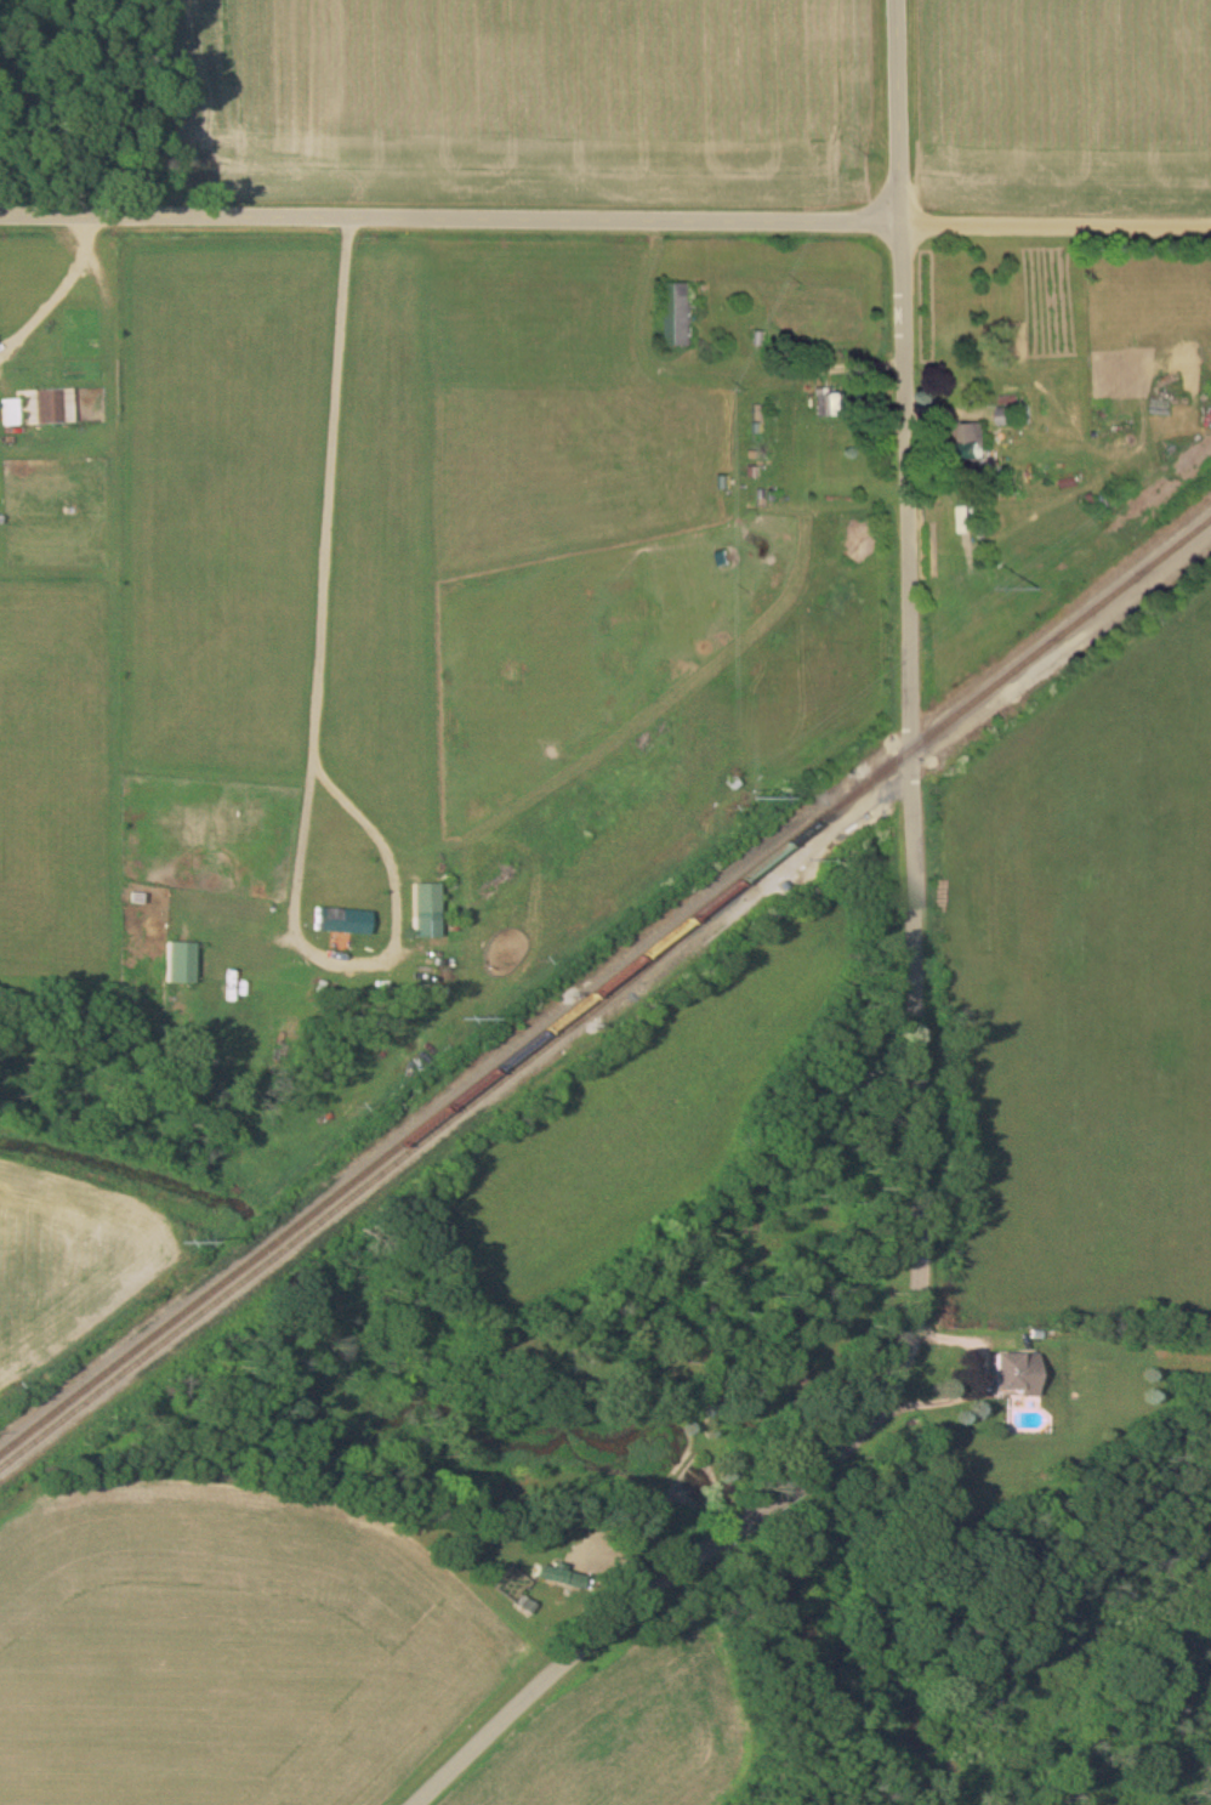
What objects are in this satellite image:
crop: (1068, 104)
road: (897, 108)
road: (449, 212)
road: (1054, 217)
road: (67, 295)
building: (678, 314)
building: (836, 405)
building: (40, 408)
building: (1010, 416)
building: (971, 447)
road: (313, 738)
building: (426, 913)
building: (341, 923)
building: (177, 965)
railway: (604, 982)
road: (915, 1123)
railway: (391, 1168)
building: (1013, 1374)
road: (977, 1386)
building: (559, 1574)

